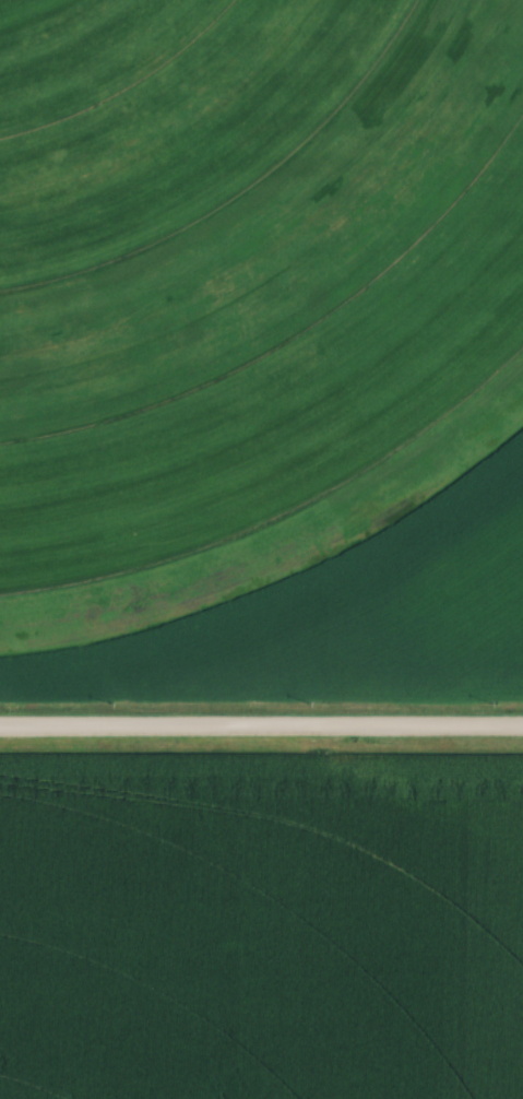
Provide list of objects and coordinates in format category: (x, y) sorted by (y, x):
road: (261, 732)

